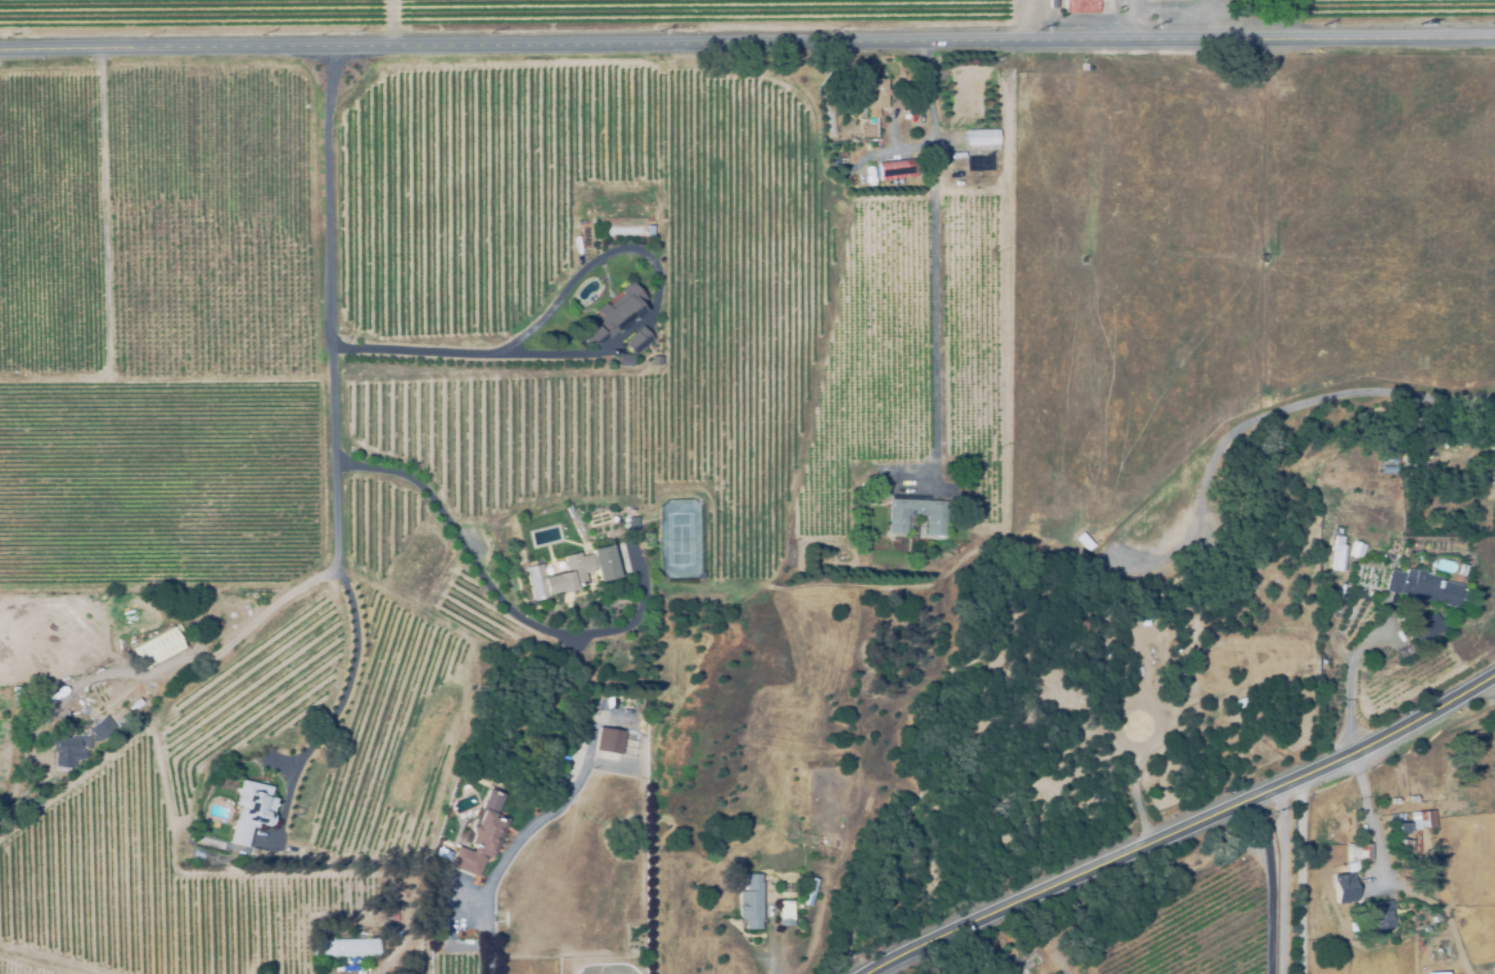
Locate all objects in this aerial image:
building: (1080, 6)
road: (1026, 21)
road: (747, 42)
building: (876, 100)
building: (980, 139)
building: (843, 153)
building: (899, 168)
building: (955, 180)
road: (935, 245)
building: (618, 310)
building: (633, 344)
road: (443, 352)
road: (332, 448)
building: (1408, 470)
building: (917, 517)
building: (632, 523)
road: (452, 526)
building: (647, 539)
building: (1355, 551)
building: (1337, 555)
building: (571, 574)
building: (1423, 587)
building: (1426, 630)
building: (157, 649)
road: (352, 666)
road: (1494, 672)
road: (1349, 680)
building: (15, 692)
building: (136, 702)
building: (103, 730)
building: (608, 743)
building: (68, 750)
building: (1410, 799)
building: (1392, 802)
building: (254, 806)
road: (1371, 815)
building: (1414, 819)
road: (1184, 826)
building: (1398, 830)
building: (483, 833)
building: (1403, 848)
road: (509, 849)
building: (1354, 852)
road: (1302, 872)
road: (1272, 880)
building: (812, 884)
building: (1340, 889)
building: (752, 899)
building: (788, 908)
building: (1374, 917)
building: (348, 947)
building: (1024, 958)
building: (350, 967)
road: (771, 967)
building: (1492, 968)
building: (1429, 973)

